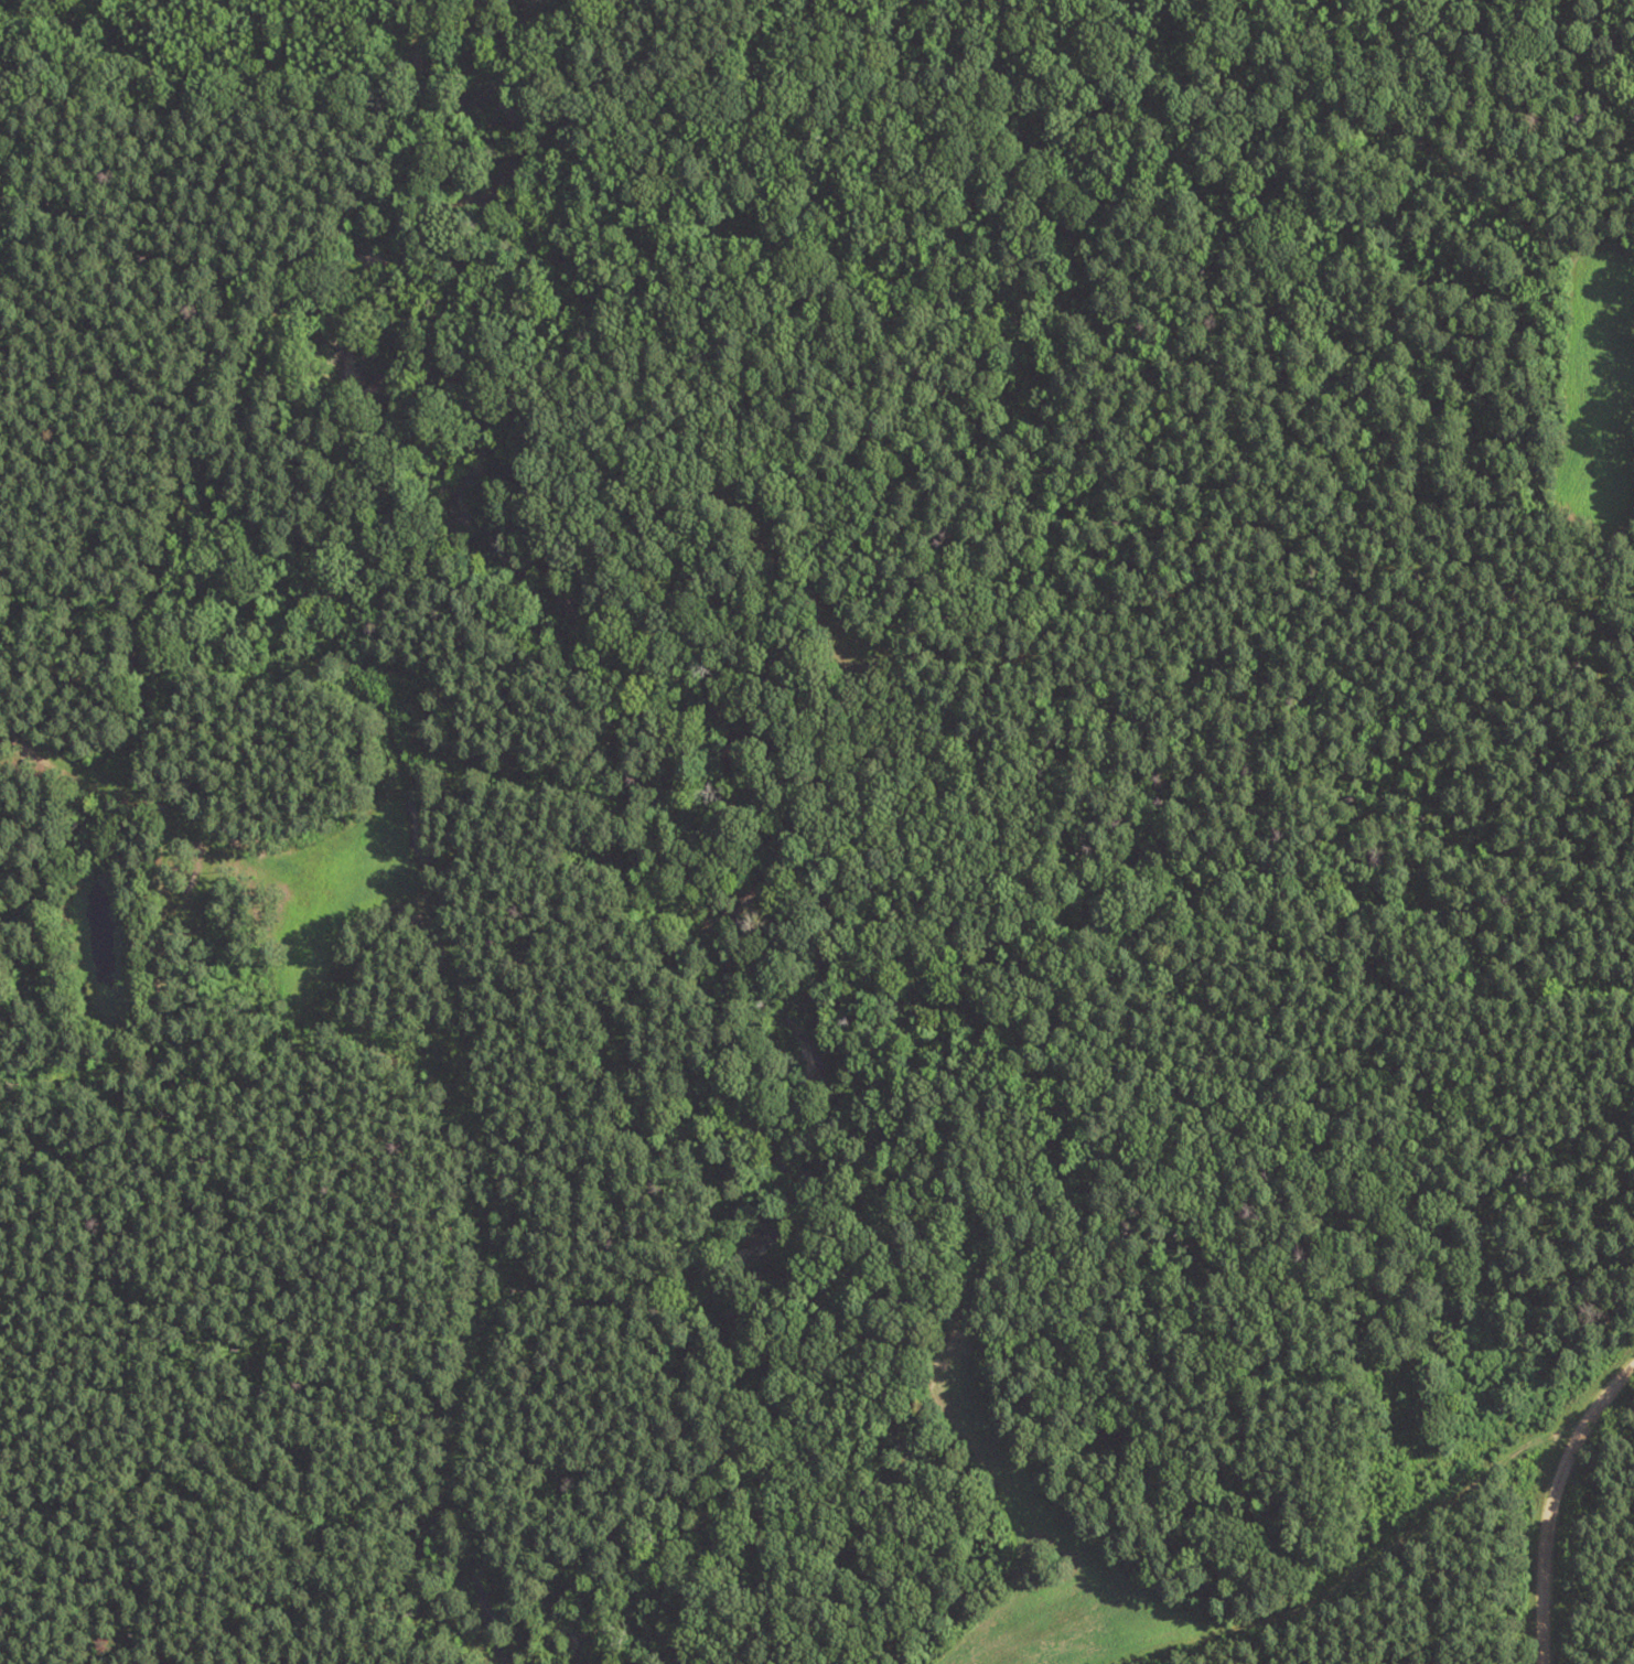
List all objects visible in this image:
road: (1516, 1481)

